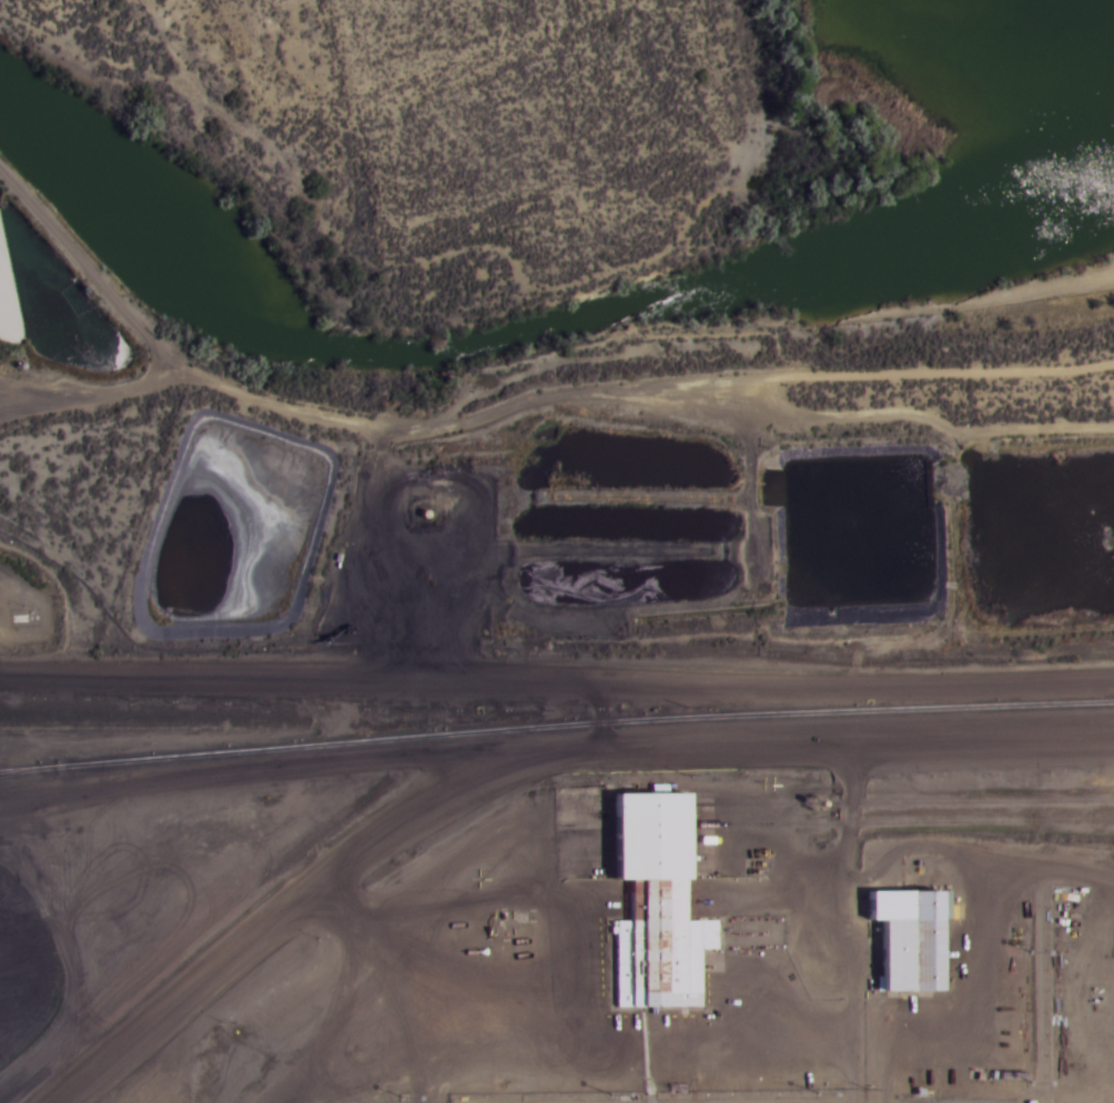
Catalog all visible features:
railway: (556, 727)
road: (517, 757)
railway: (32, 772)
railway: (835, 800)
railway: (839, 822)
railway: (1071, 823)
building: (646, 907)
power plant: (563, 908)
building: (899, 939)

